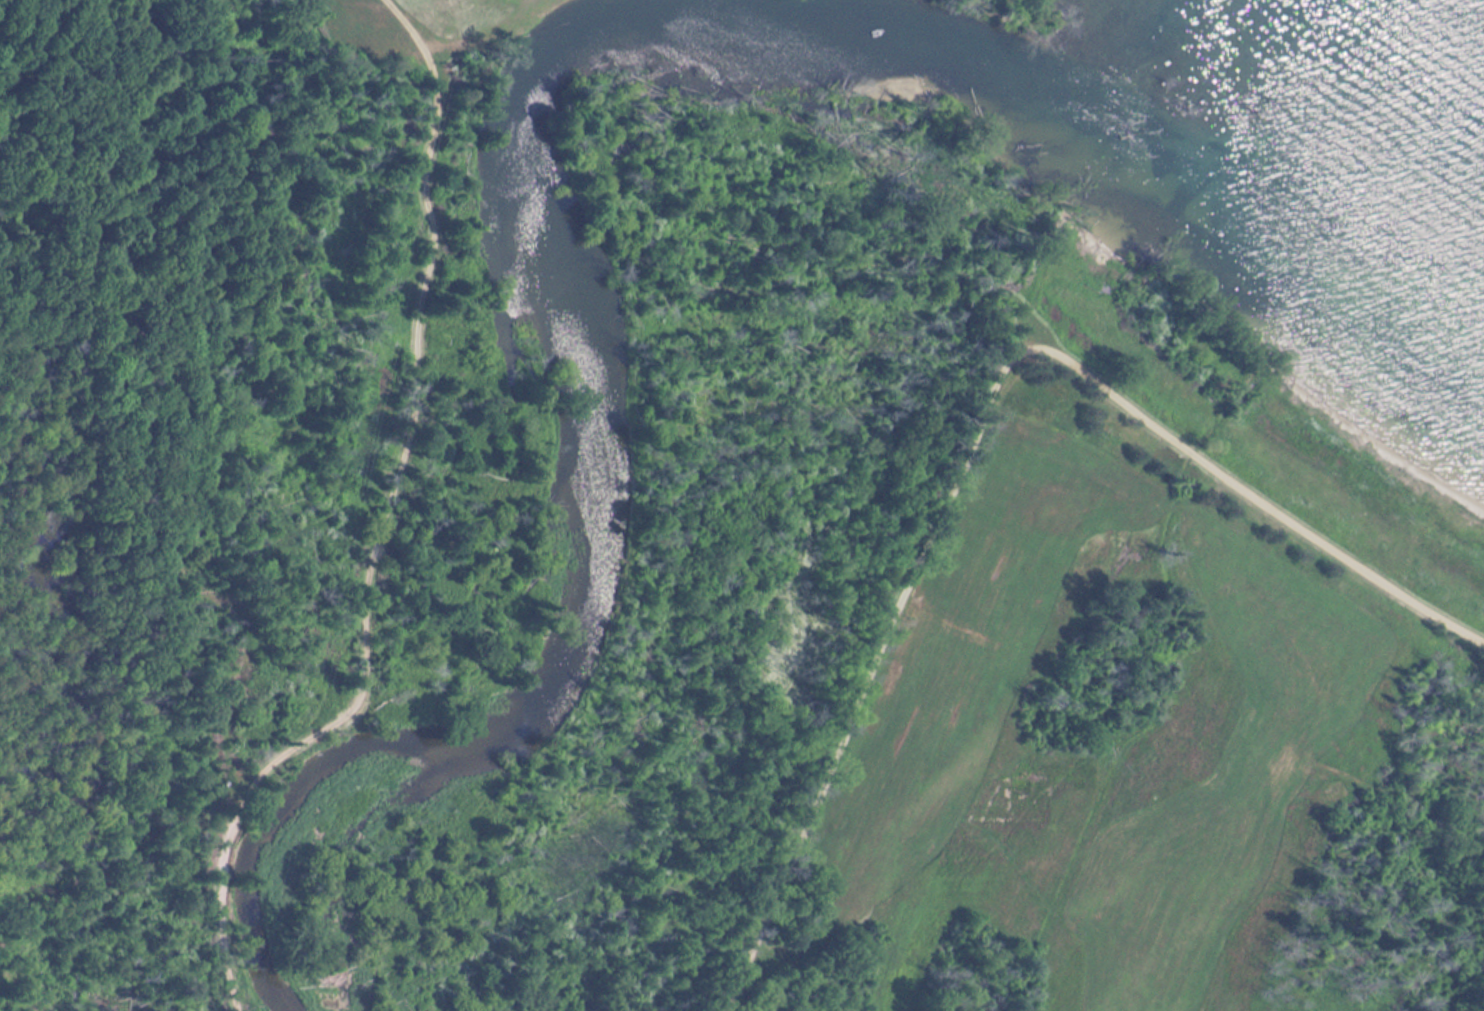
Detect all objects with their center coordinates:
river: (597, 371)
road: (976, 419)
road: (382, 522)

